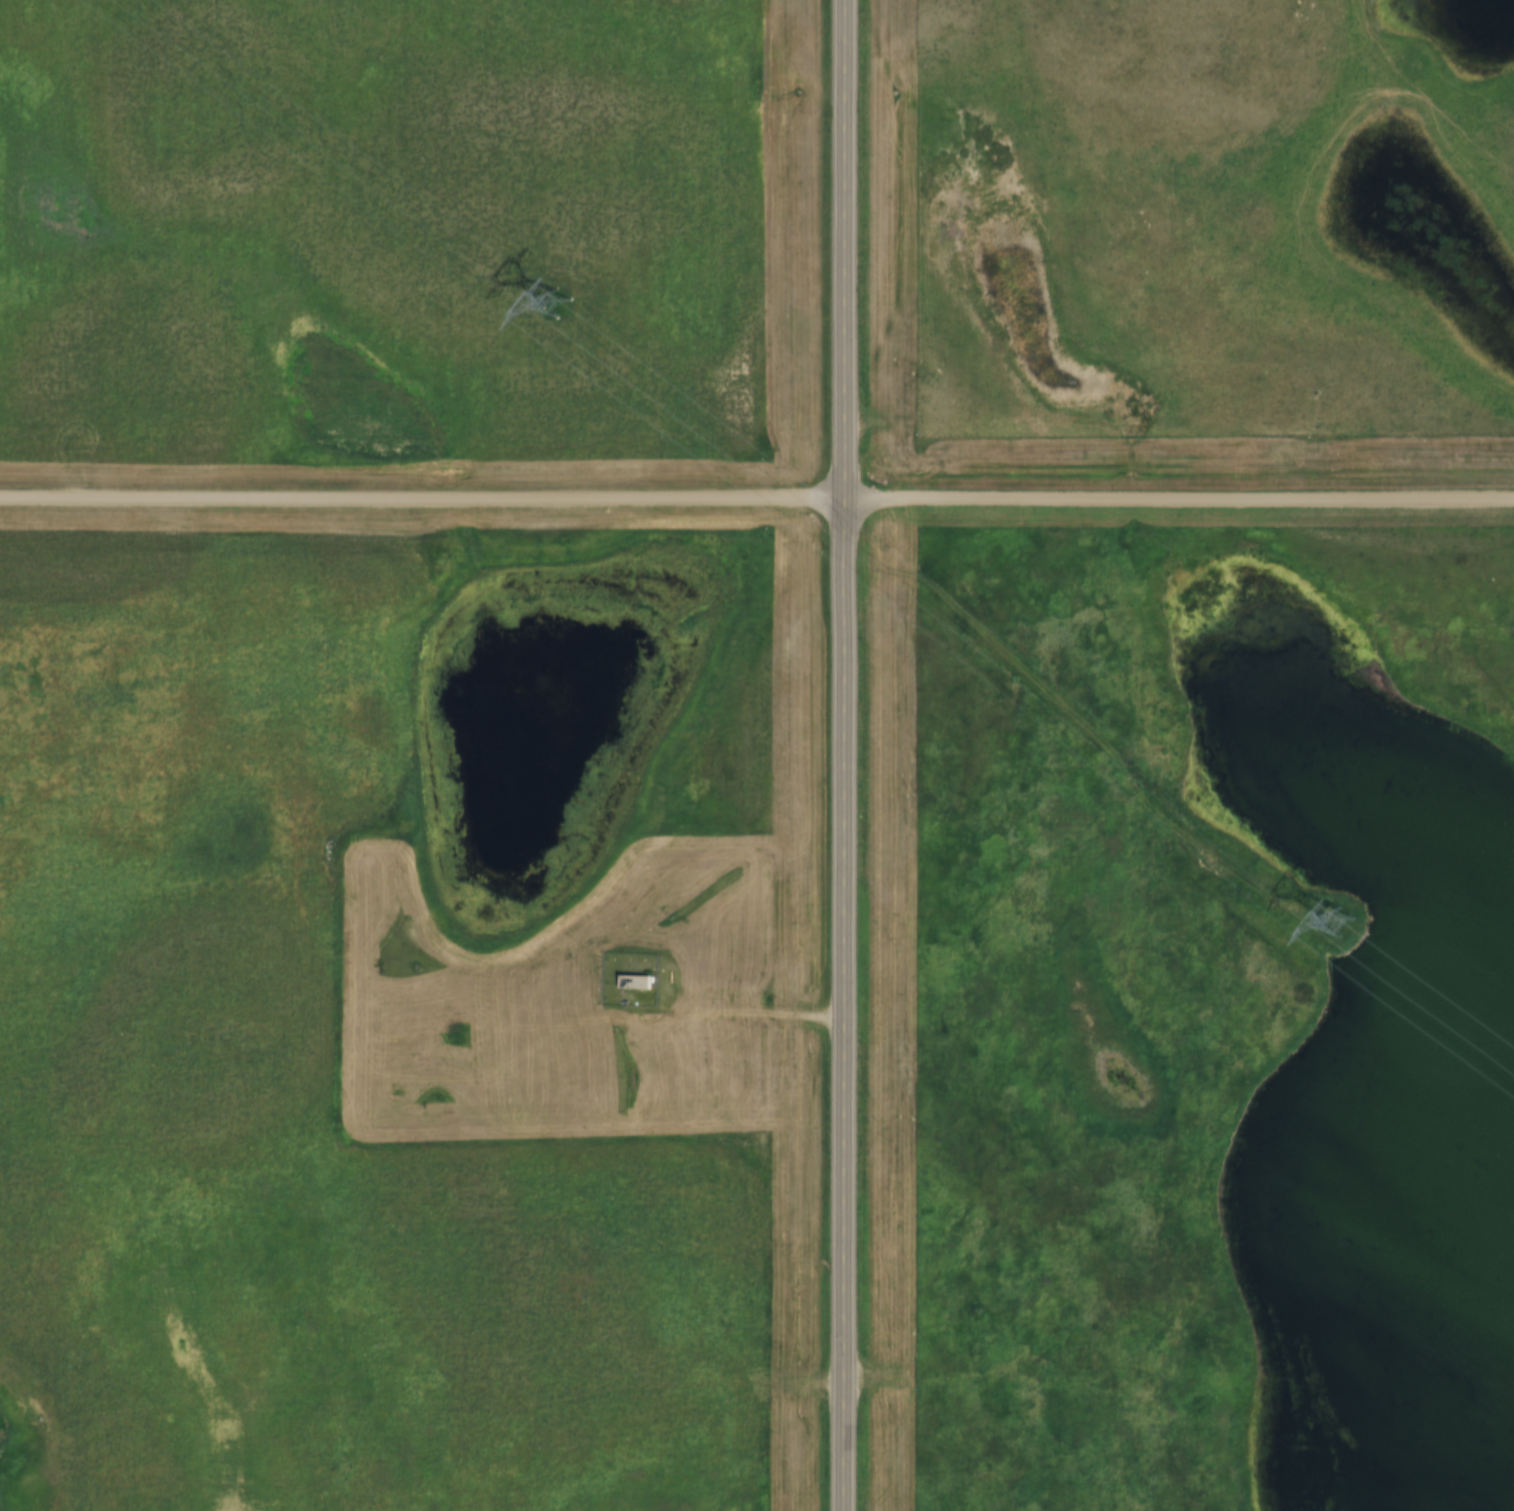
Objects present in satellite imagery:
power tower: (558, 303)
road: (756, 496)
road: (847, 755)
power tower: (1340, 923)
building: (639, 983)

